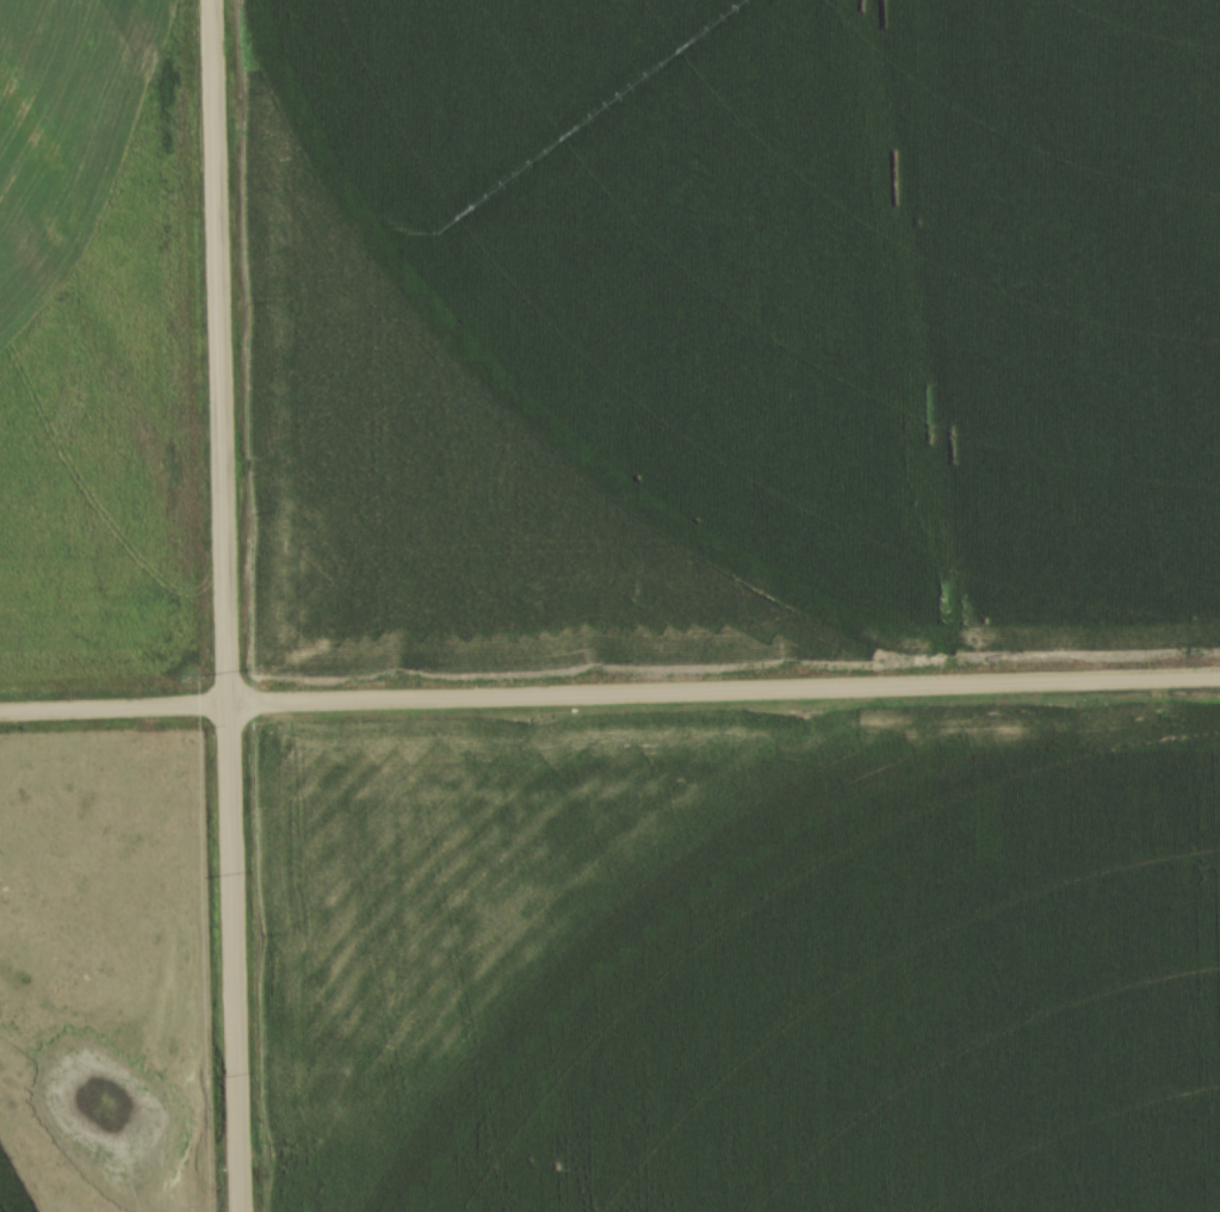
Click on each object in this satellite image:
road: (227, 606)
road: (609, 693)

